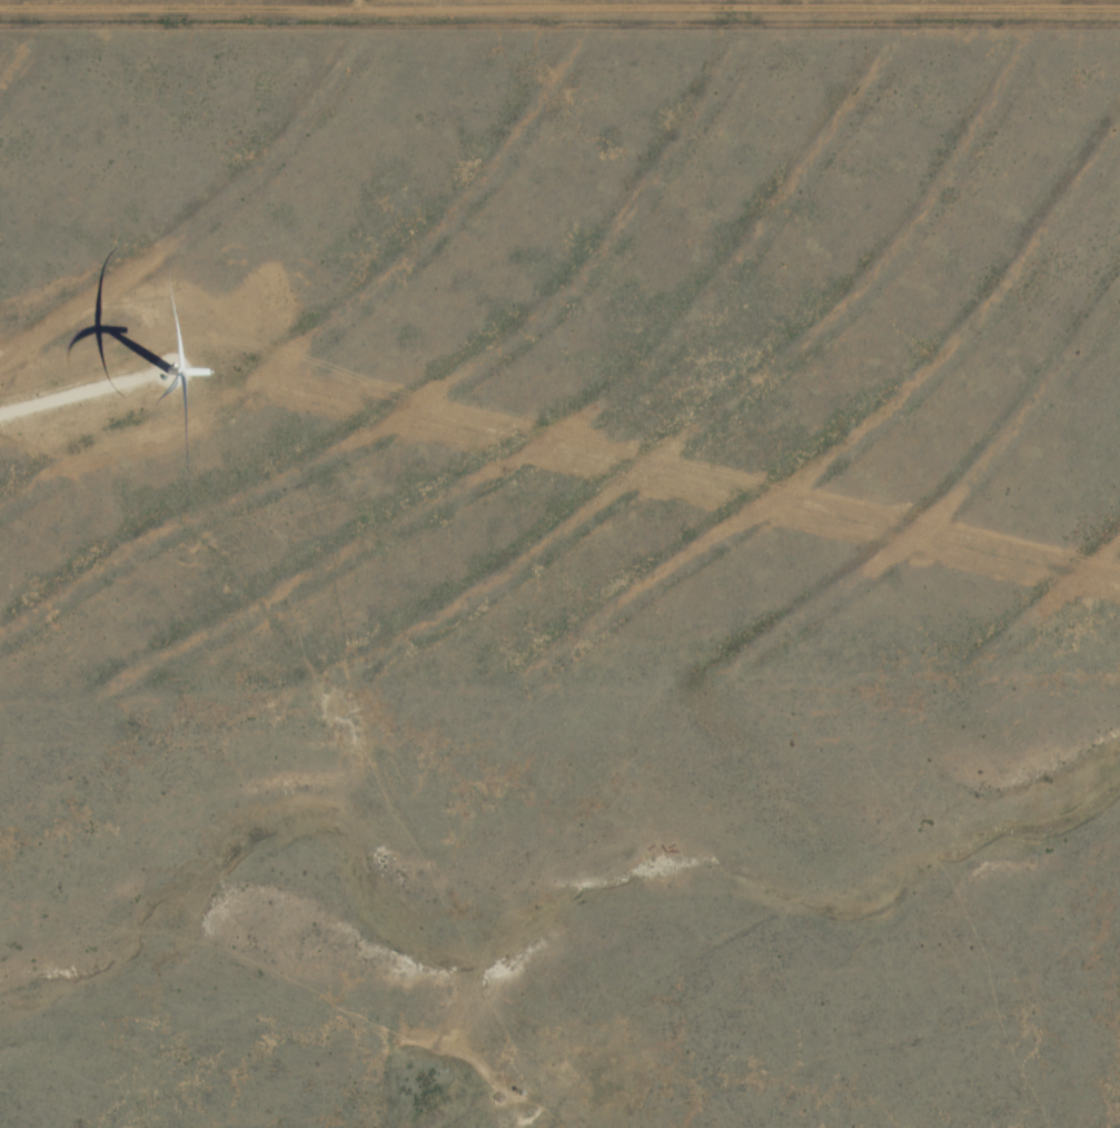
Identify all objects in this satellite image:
road: (559, 7)
wind turbine: (166, 366)

